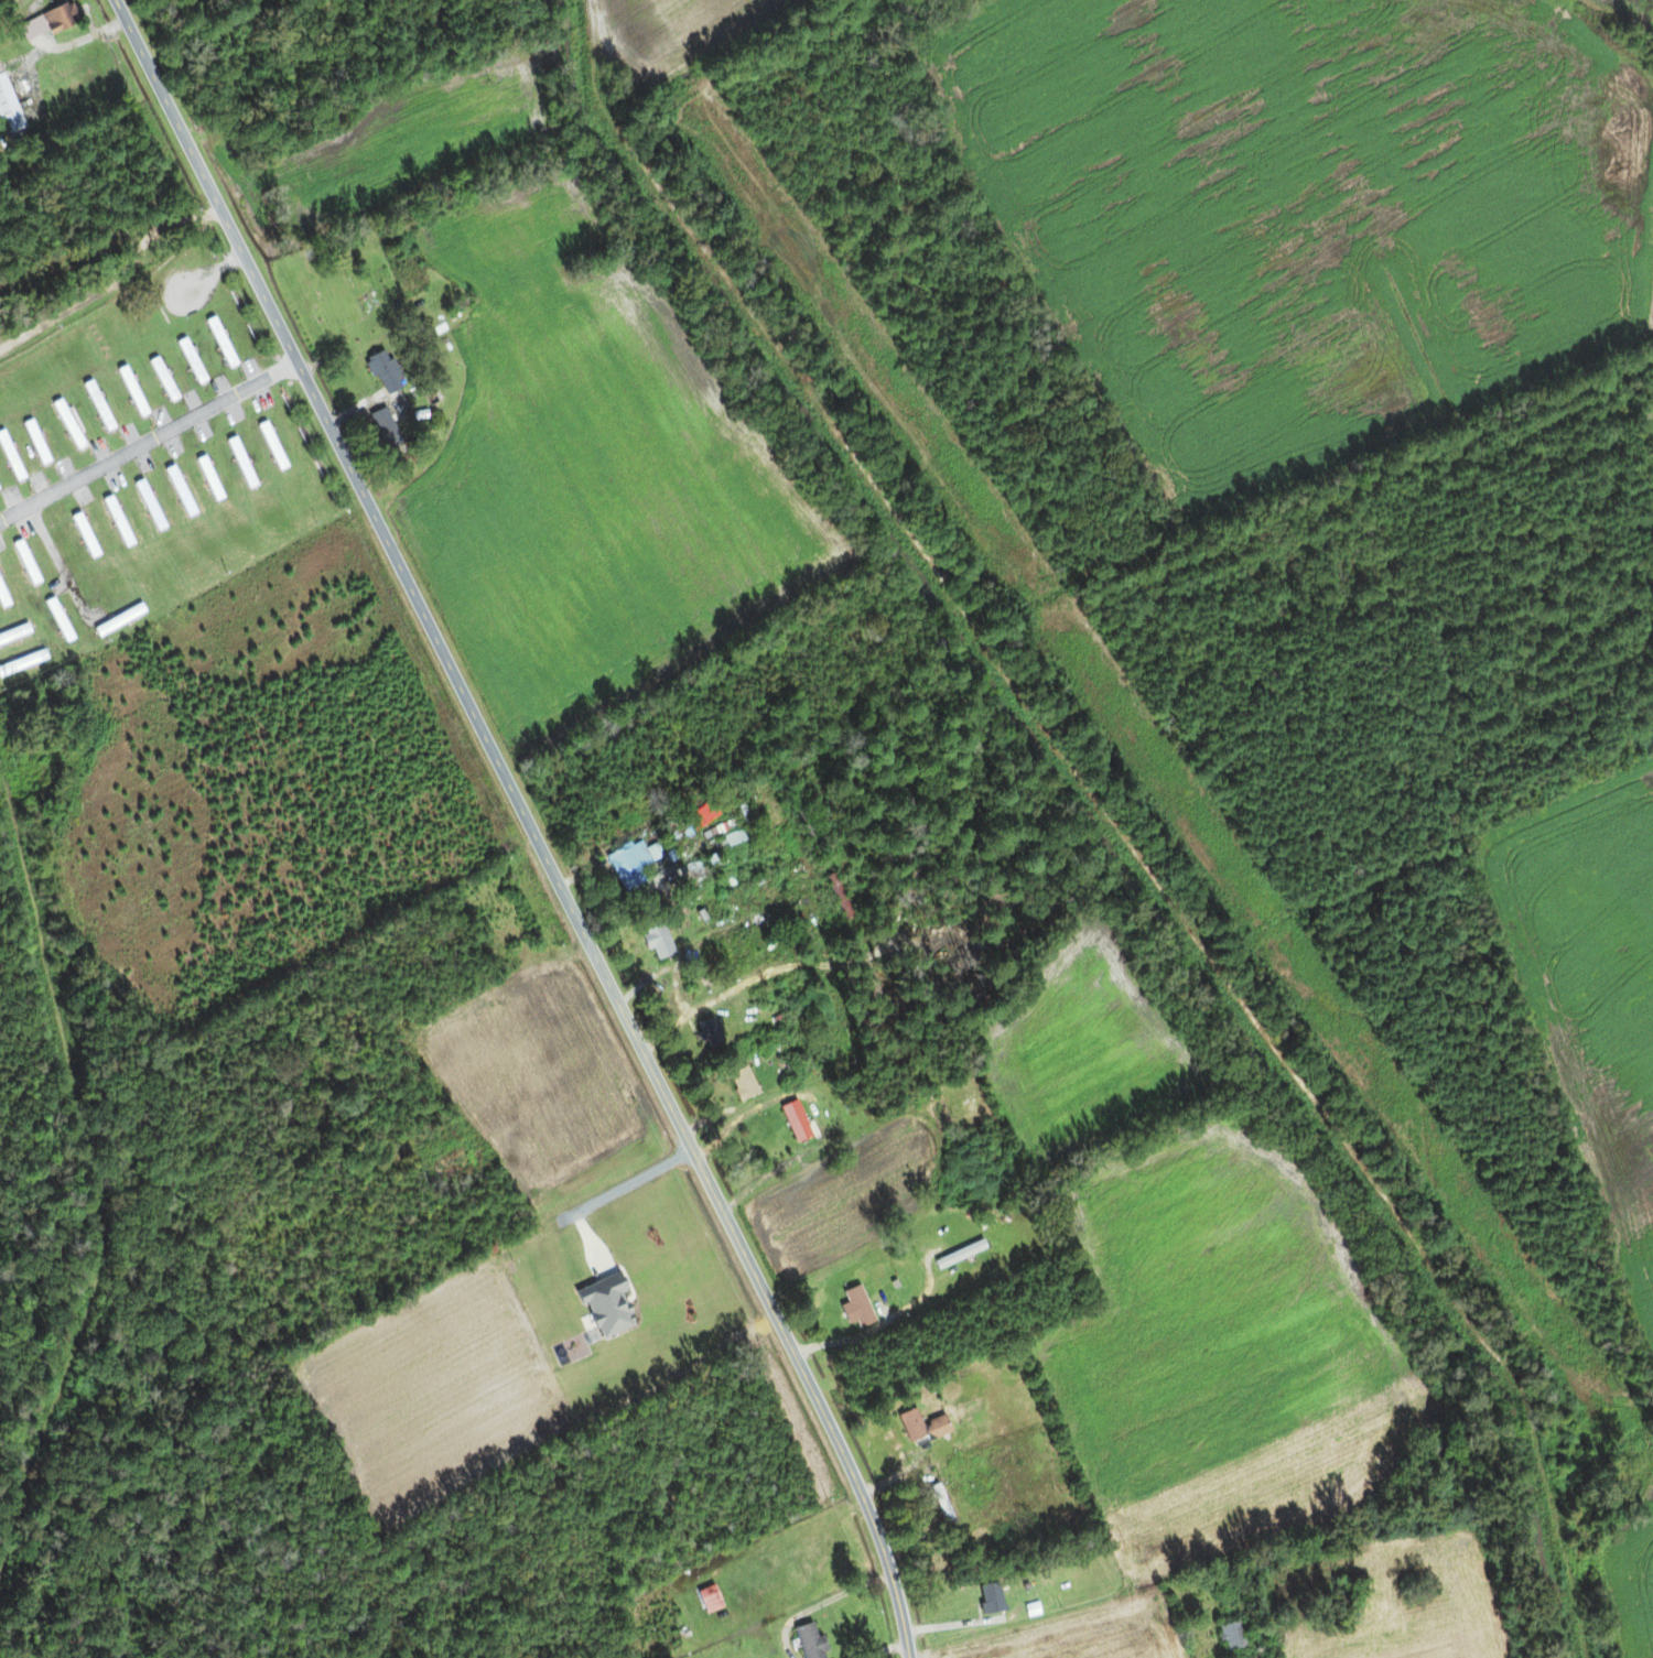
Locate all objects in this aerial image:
building: (44, 23)
building: (7, 109)
building: (219, 342)
building: (190, 359)
building: (383, 372)
building: (162, 378)
building: (130, 390)
building: (97, 404)
building: (67, 424)
building: (383, 427)
building: (202, 431)
road: (148, 438)
building: (34, 441)
building: (271, 445)
building: (10, 459)
building: (239, 462)
building: (143, 463)
building: (208, 477)
building: (179, 490)
building: (80, 497)
building: (149, 505)
building: (117, 521)
building: (84, 534)
building: (25, 562)
building: (2, 599)
building: (57, 619)
building: (117, 619)
building: (13, 632)
building: (22, 662)
road: (527, 823)
building: (725, 835)
building: (628, 864)
building: (701, 870)
building: (839, 896)
building: (657, 939)
building: (798, 1009)
building: (742, 1083)
building: (795, 1120)
building: (959, 1254)
building: (855, 1307)
building: (921, 1427)
building: (941, 1503)
building: (709, 1599)
building: (990, 1599)
building: (1230, 1636)
building: (809, 1641)

